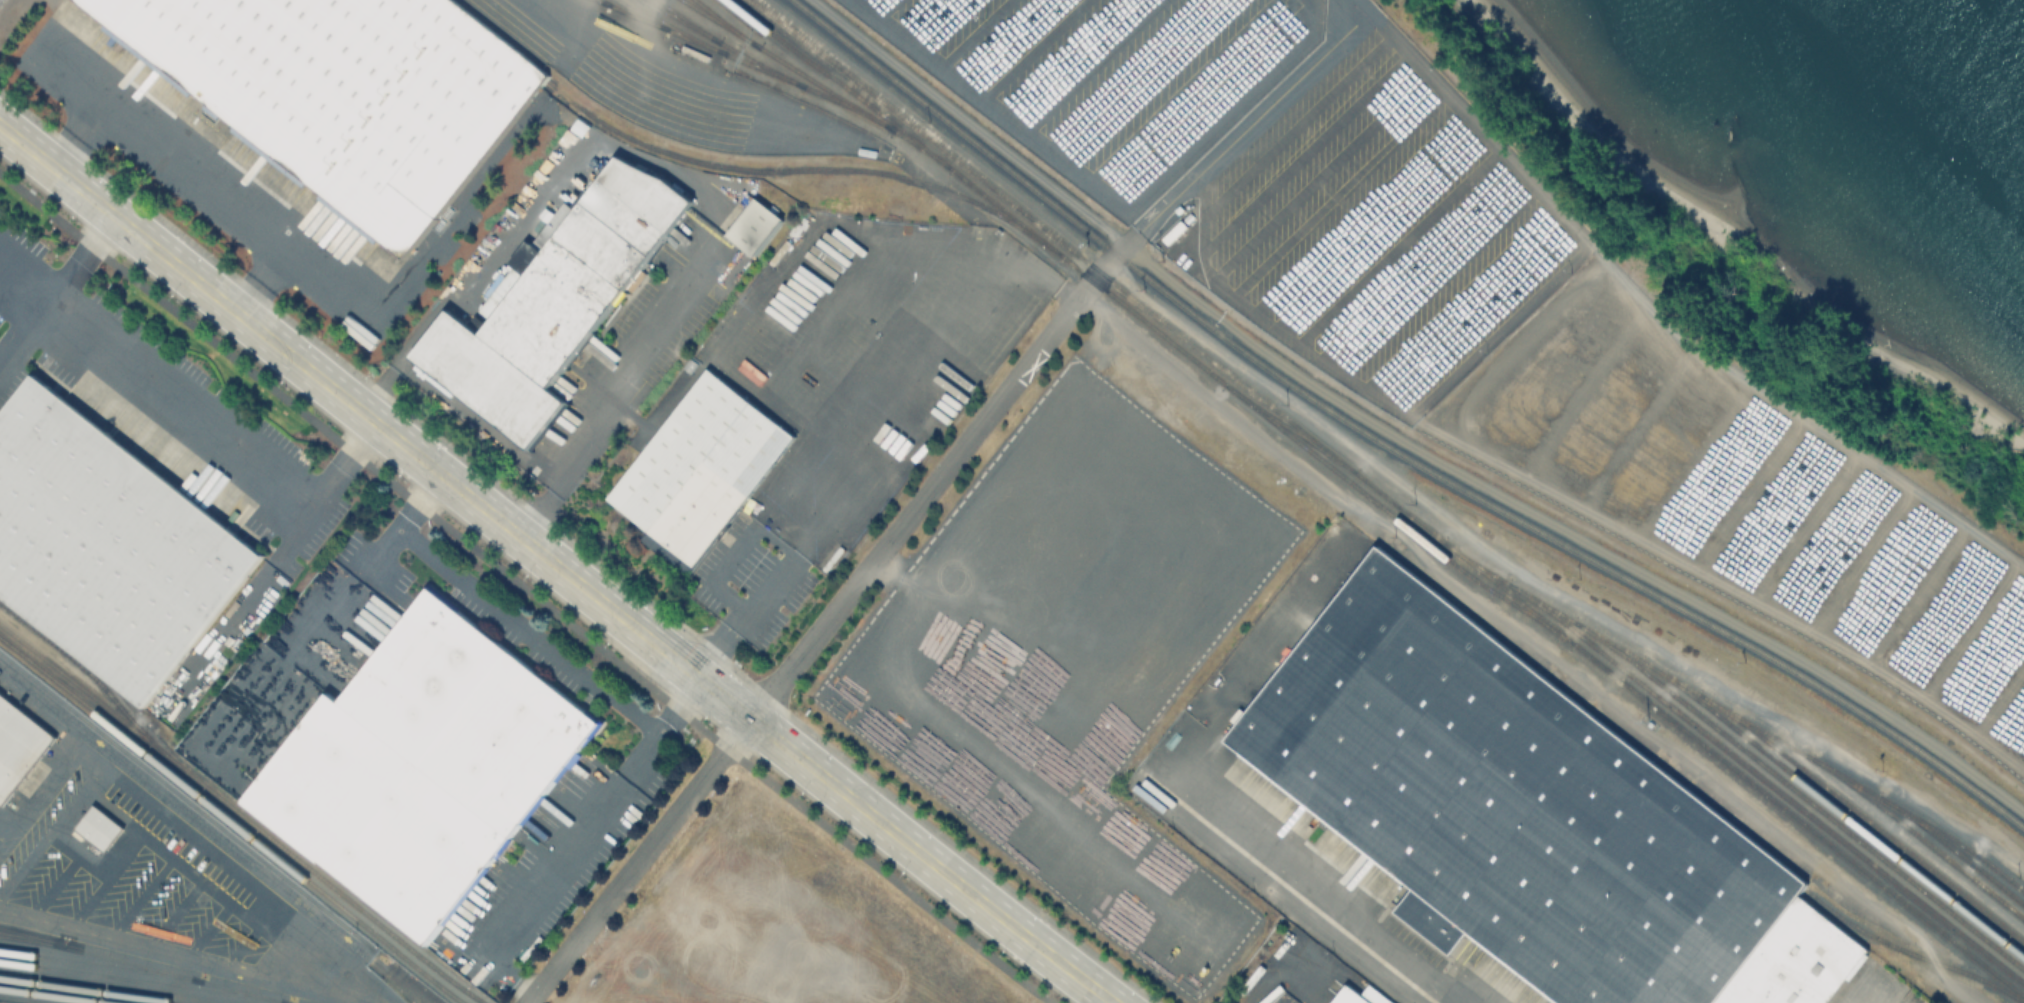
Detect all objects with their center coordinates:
railway: (604, 0)
road: (858, 1)
road: (1356, 7)
road: (887, 9)
railway: (639, 14)
road: (916, 17)
railway: (689, 19)
railway: (726, 21)
railway: (675, 25)
road: (945, 25)
road: (975, 33)
railway: (724, 41)
road: (1005, 42)
road: (1033, 50)
road: (1063, 58)
railway: (788, 63)
road: (93, 66)
road: (1093, 66)
railway: (782, 74)
road: (1123, 74)
road: (1151, 83)
road: (1180, 90)
building: (349, 92)
road: (968, 122)
road: (1294, 127)
road: (1245, 130)
road: (1303, 155)
railway: (800, 171)
road: (1316, 177)
road: (189, 180)
road: (1104, 194)
road: (1337, 196)
road: (538, 205)
road: (1356, 213)
road: (822, 217)
road: (1377, 229)
building: (754, 231)
road: (104, 232)
road: (1398, 246)
road: (1420, 265)
road: (1439, 281)
road: (1064, 293)
road: (1458, 296)
building: (555, 302)
road: (383, 305)
road: (46, 308)
road: (1480, 314)
railway: (1158, 321)
railway: (1147, 325)
road: (1487, 339)
road: (915, 376)
road: (379, 391)
road: (619, 392)
road: (182, 408)
road: (660, 409)
railway: (1288, 430)
road: (365, 436)
railway: (1385, 448)
building: (702, 464)
building: (109, 544)
road: (556, 563)
road: (524, 589)
road: (748, 614)
road: (825, 622)
road: (525, 627)
road: (1533, 643)
railway: (91, 680)
railway: (1734, 717)
building: (20, 746)
building: (428, 764)
railway: (1767, 786)
railway: (1800, 798)
railway: (1834, 810)
railway: (238, 816)
building: (1526, 816)
railway: (1864, 821)
railway: (1795, 822)
railway: (230, 823)
building: (102, 830)
road: (576, 838)
railway: (1919, 841)
railway: (1954, 853)
road: (1337, 908)
road: (159, 950)
railway: (1909, 955)
railway: (99, 964)
railway: (141, 966)
railway: (140, 981)
railway: (85, 991)
railway: (46, 996)
building: (1362, 996)

